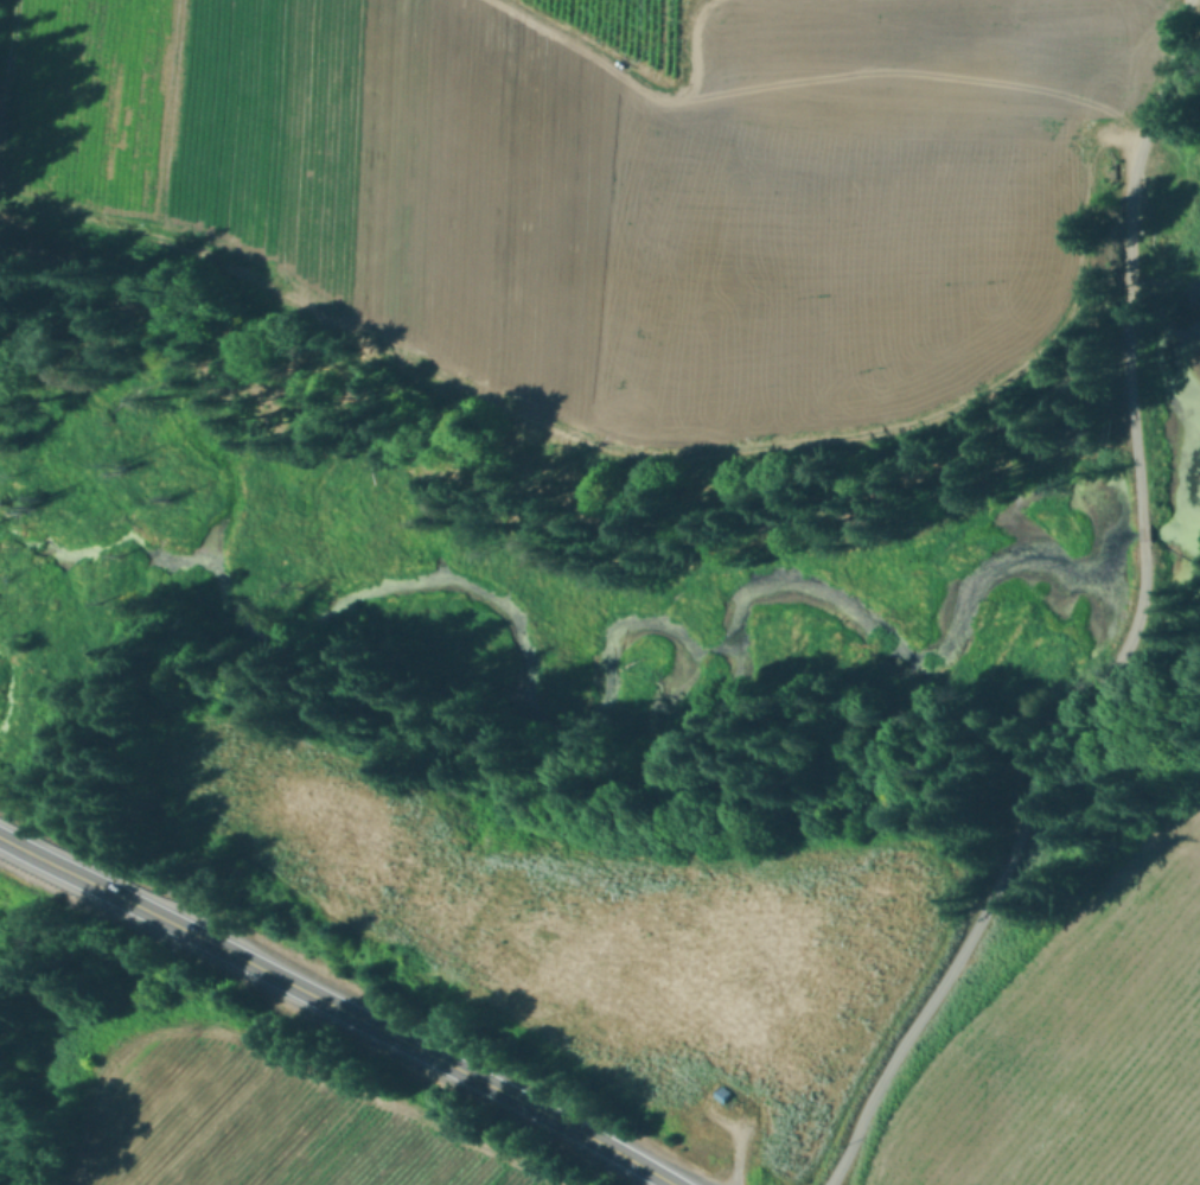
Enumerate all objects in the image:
crop: (632, 181)
road: (1135, 626)
crop: (742, 960)
road: (336, 1008)
crop: (250, 1106)

